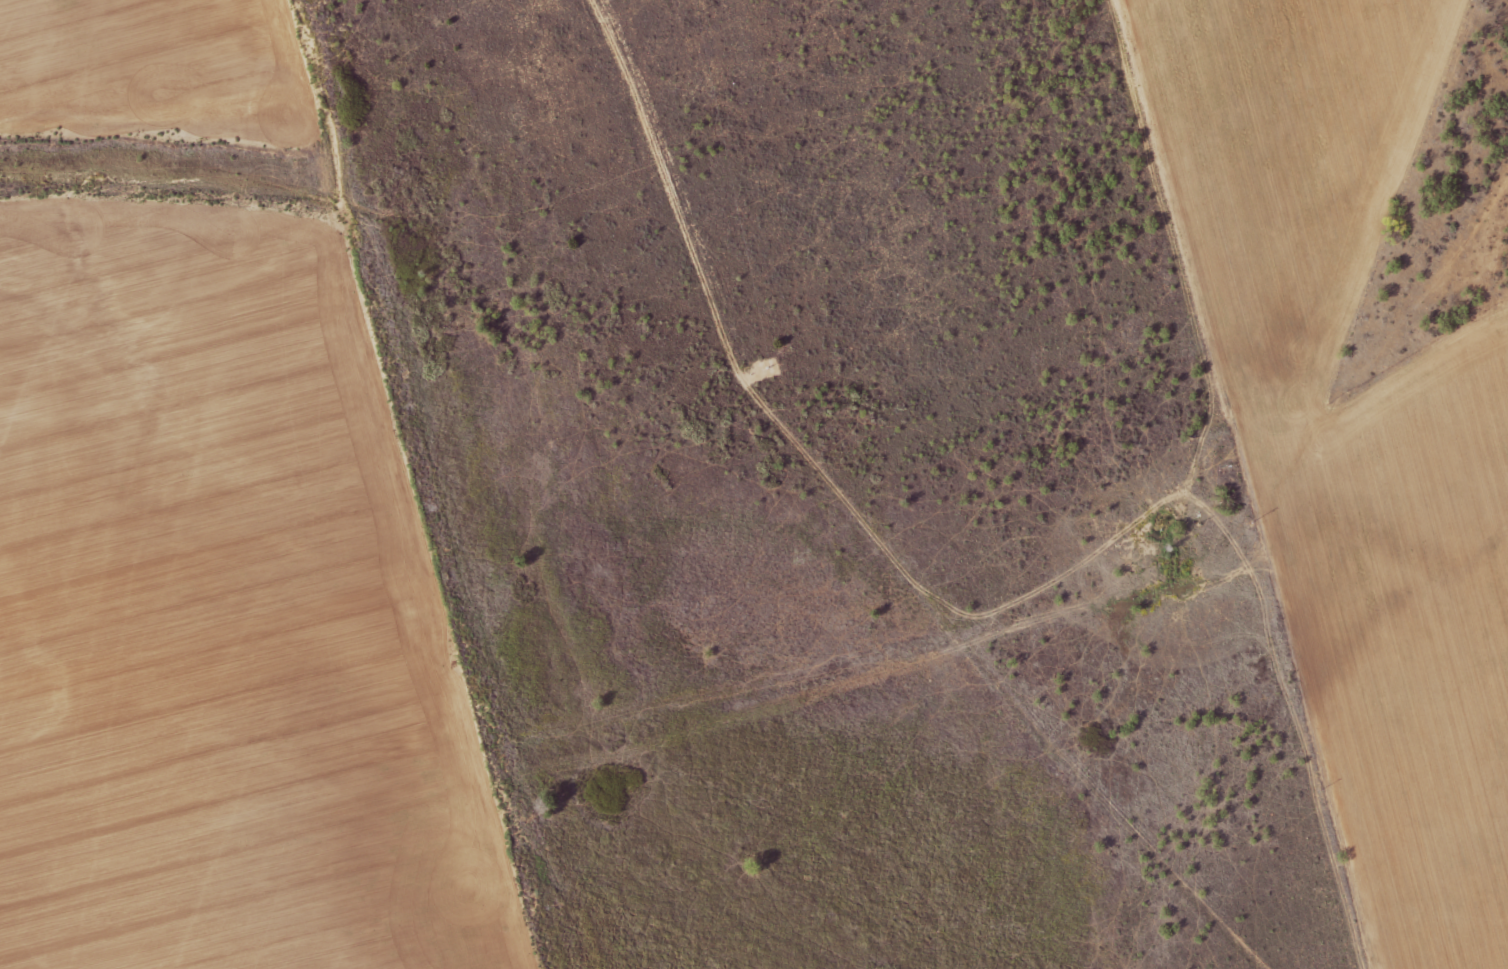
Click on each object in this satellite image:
road: (1181, 196)

